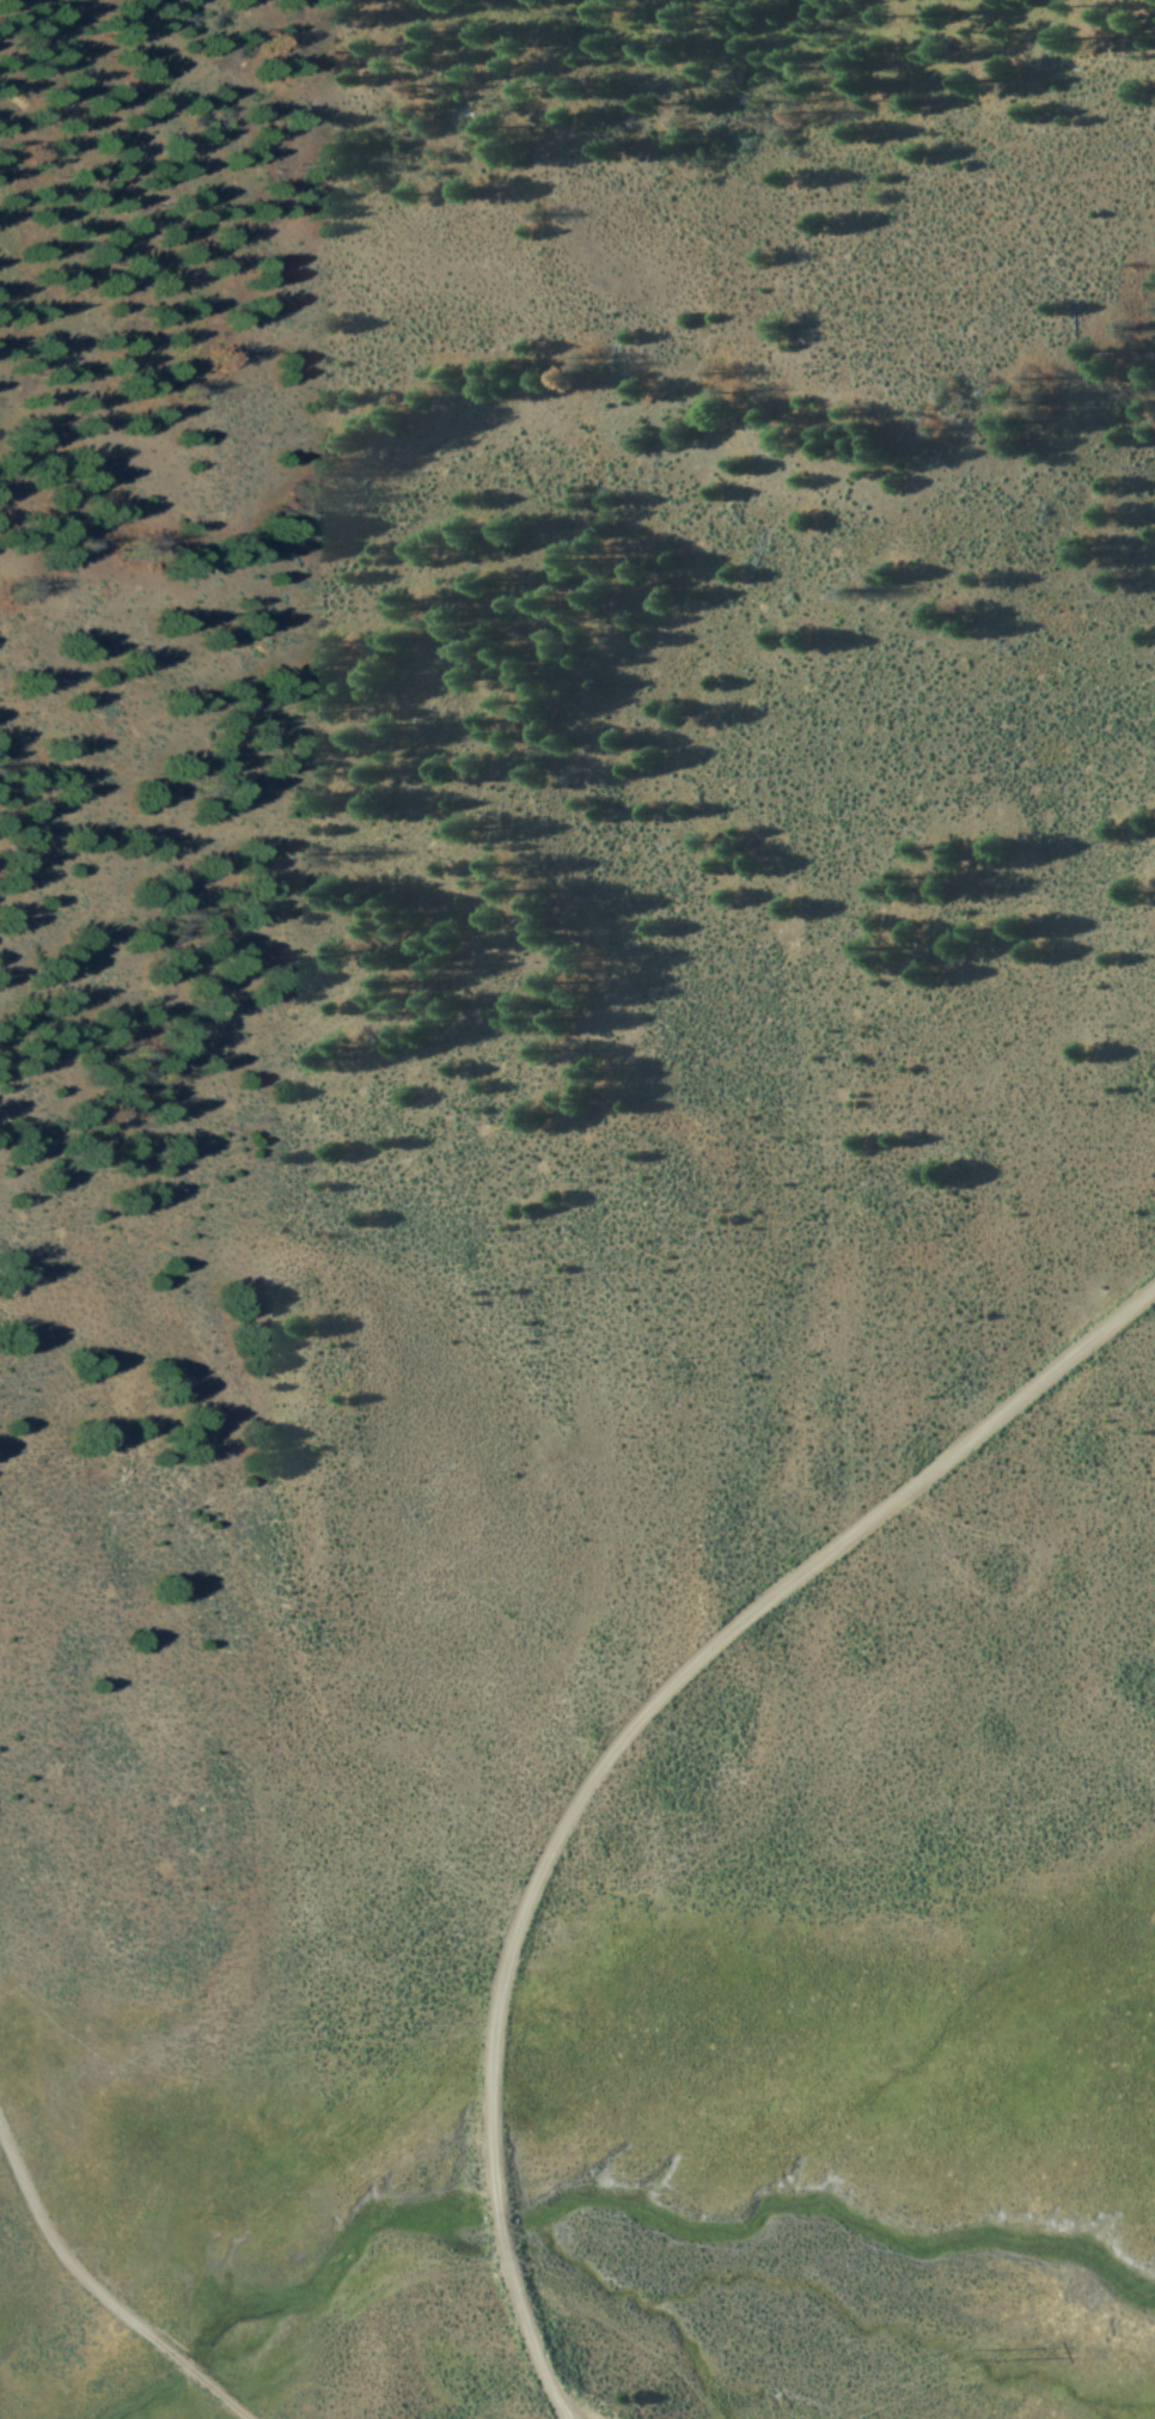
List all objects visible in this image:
road: (655, 1767)
road: (121, 2313)
power tower: (988, 2356)

